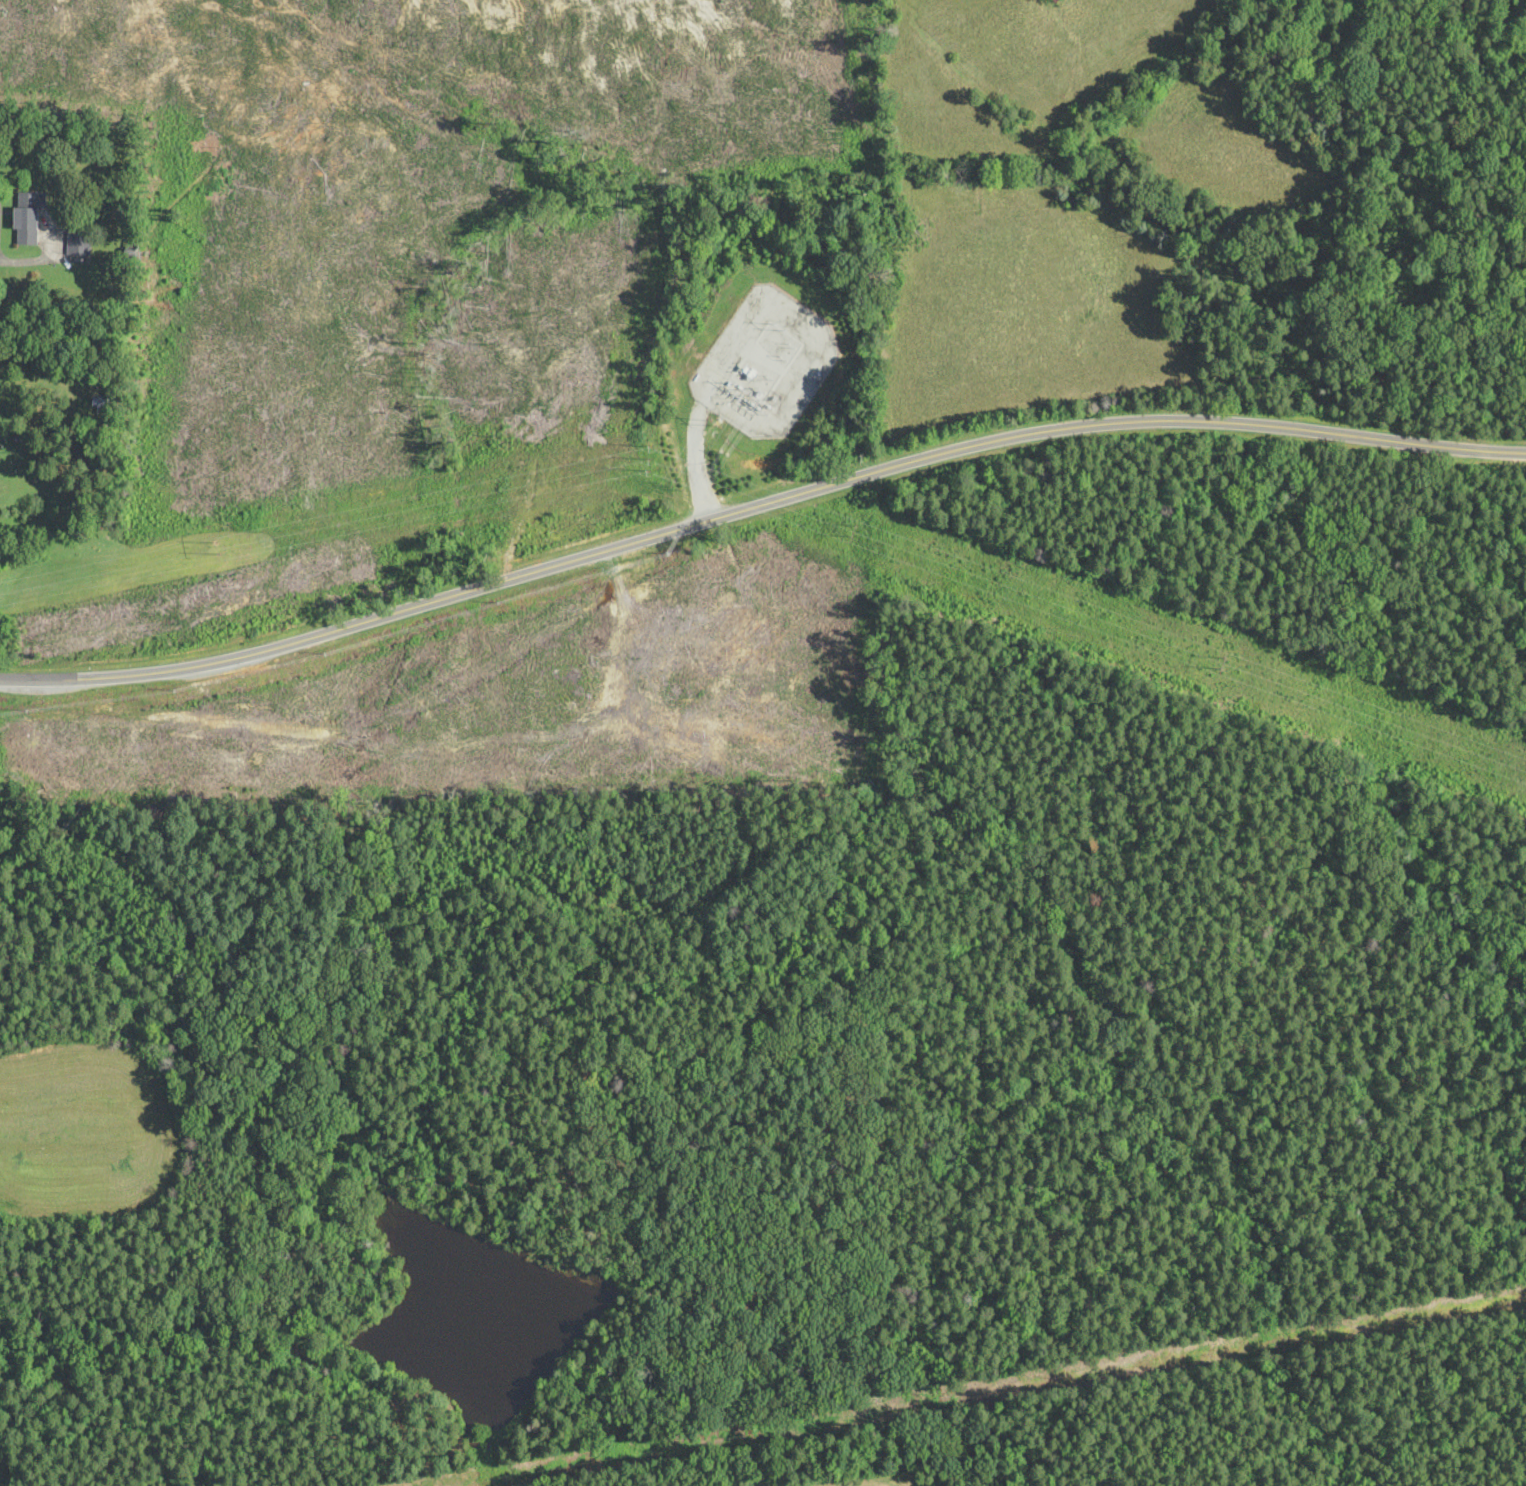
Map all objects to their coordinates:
building: (1055, 1)
building: (29, 217)
building: (80, 243)
power tower: (782, 327)
power substation: (766, 364)
building: (98, 405)
power tower: (716, 422)
power tower: (647, 462)
power tower: (680, 474)
road: (757, 507)
power tower: (856, 534)
power tower: (221, 547)
power tower: (1223, 663)

